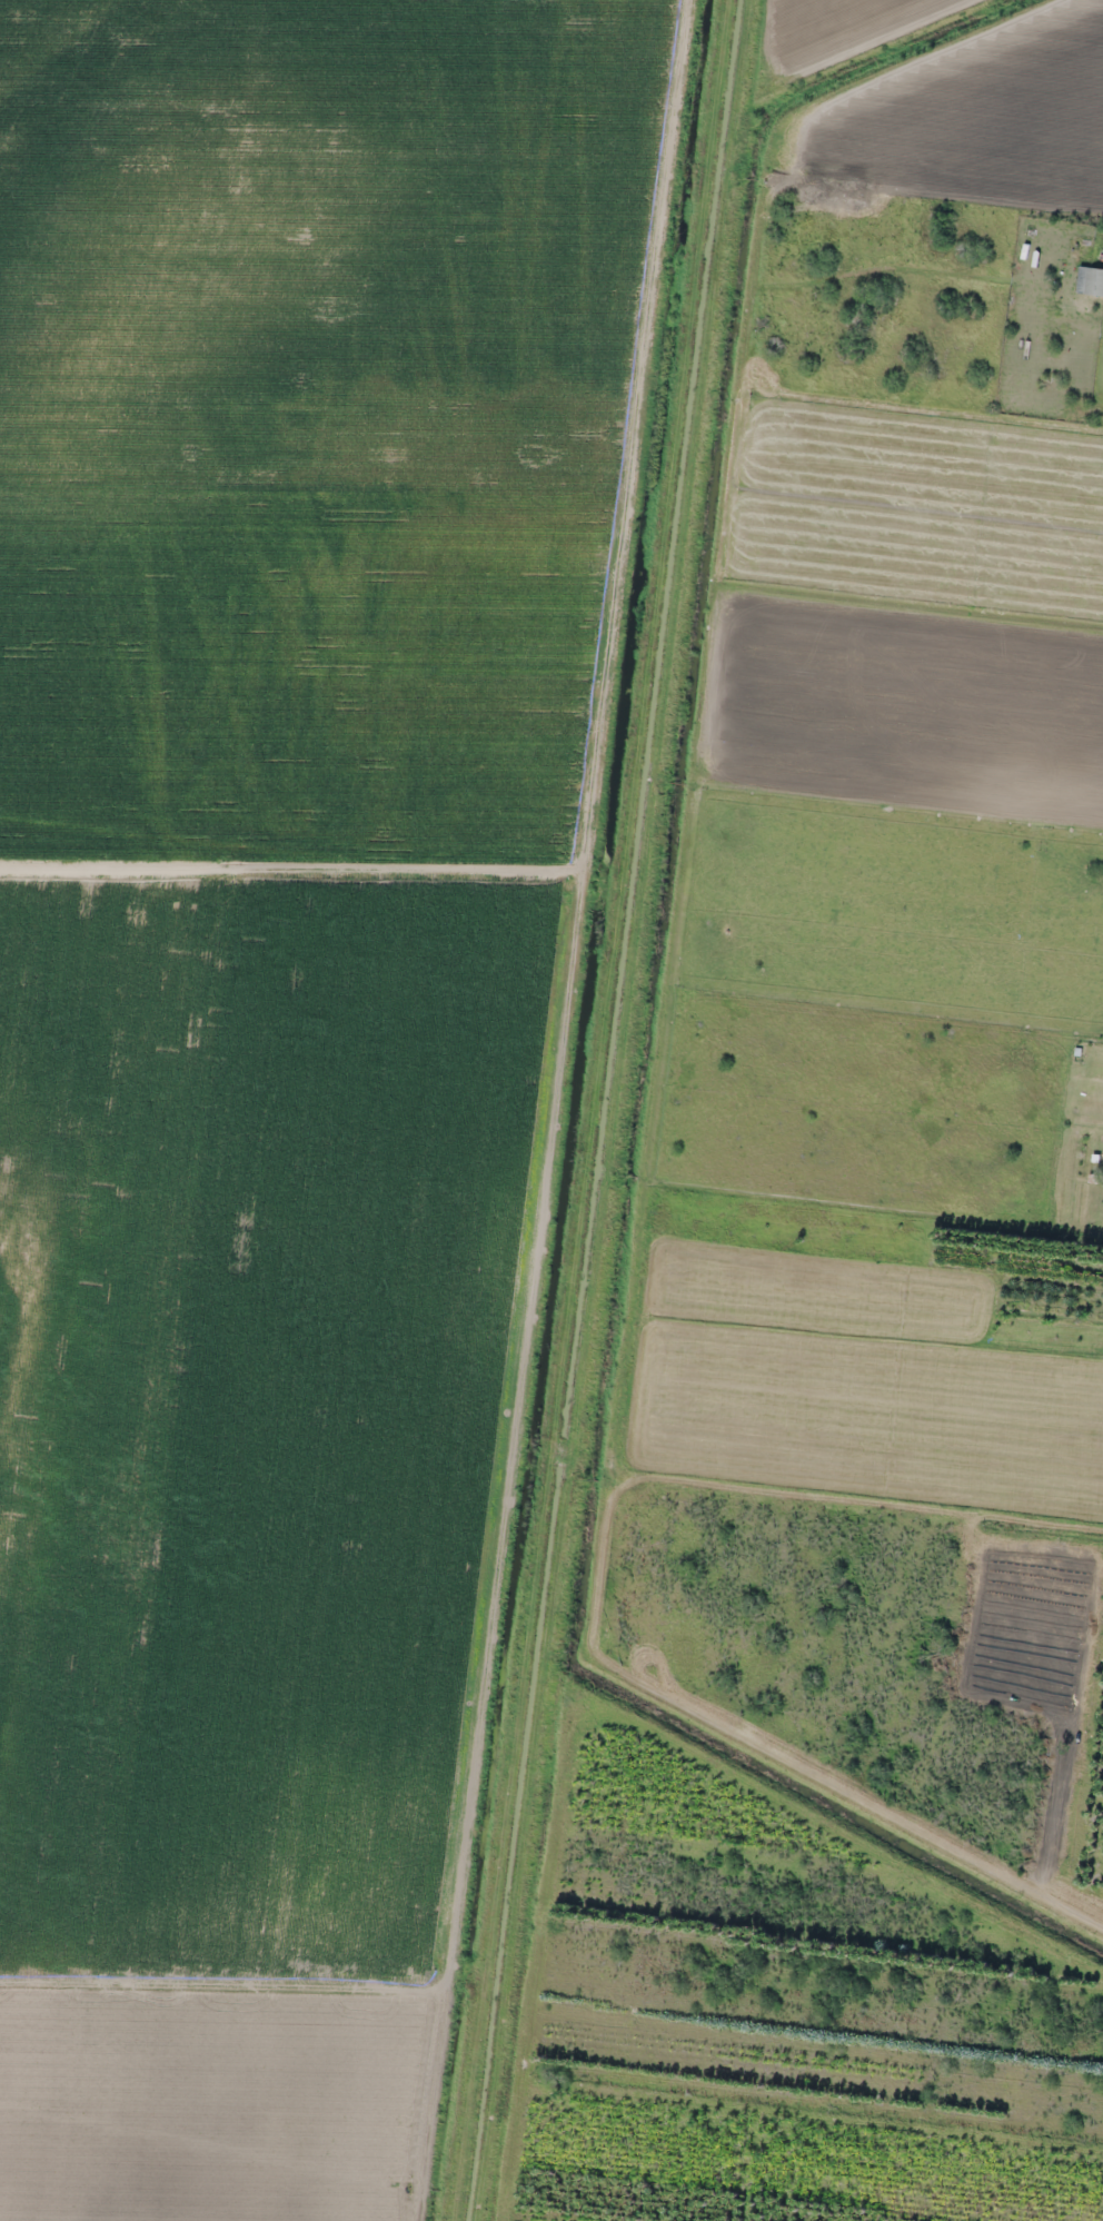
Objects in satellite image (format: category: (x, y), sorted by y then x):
building: (1090, 280)

